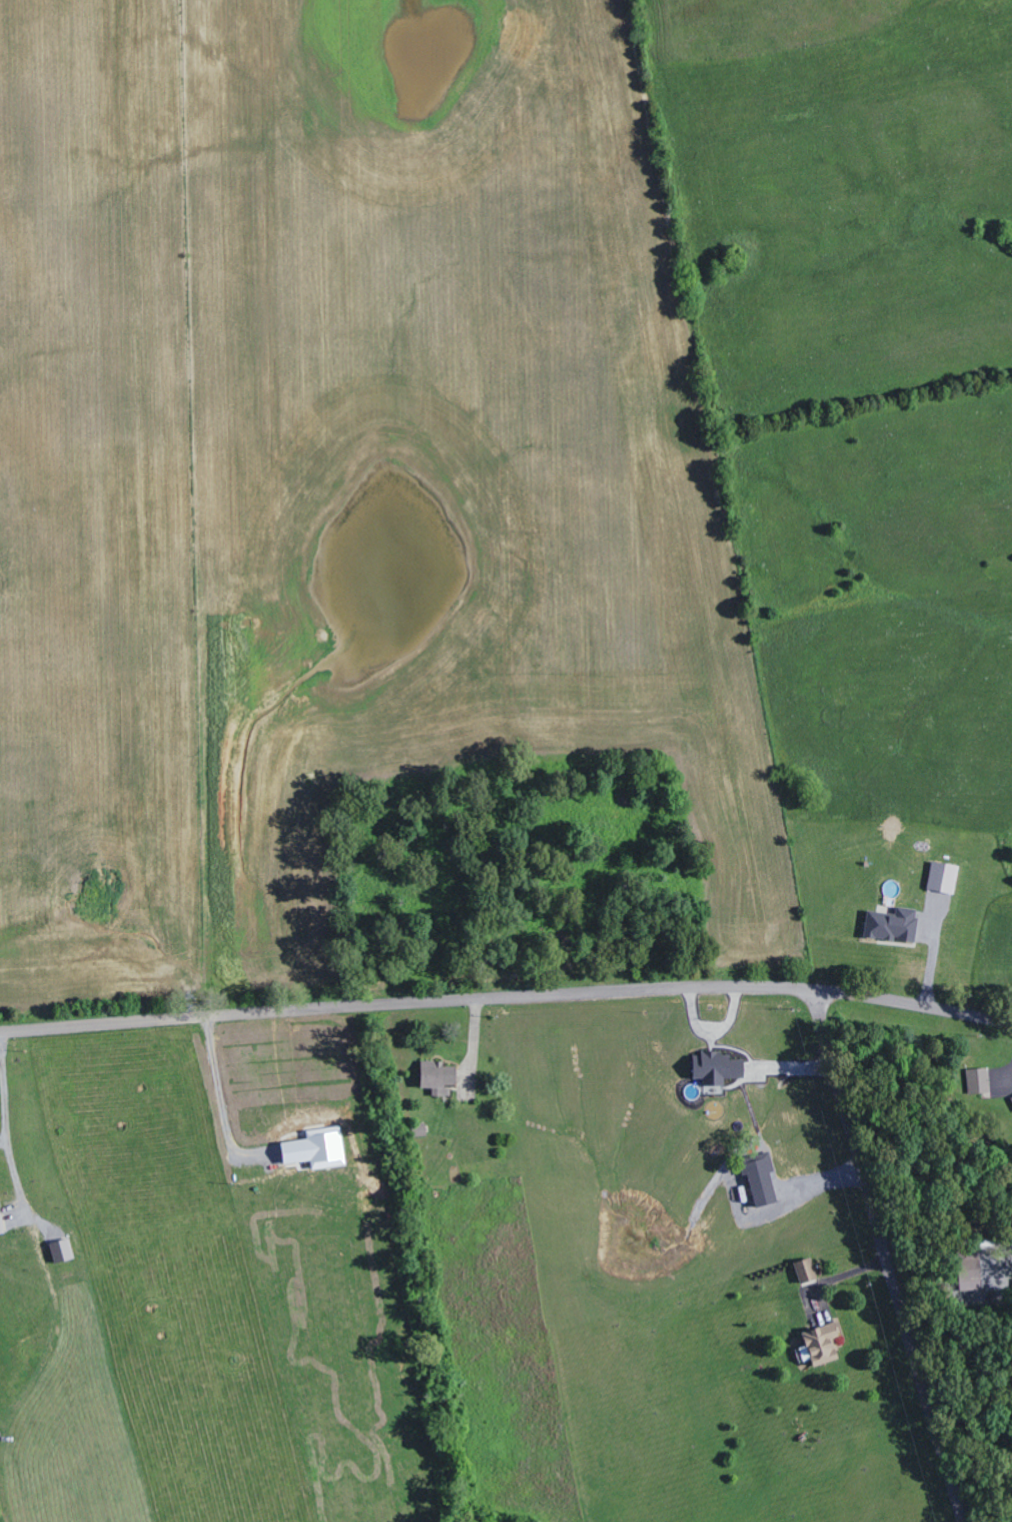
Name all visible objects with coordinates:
building: (945, 877)
building: (894, 925)
road: (507, 1002)
building: (440, 1078)
building: (980, 1081)
building: (319, 1149)
building: (763, 1181)
building: (2, 1219)
building: (64, 1251)
road: (886, 1258)
building: (808, 1271)
building: (972, 1280)
building: (822, 1346)

